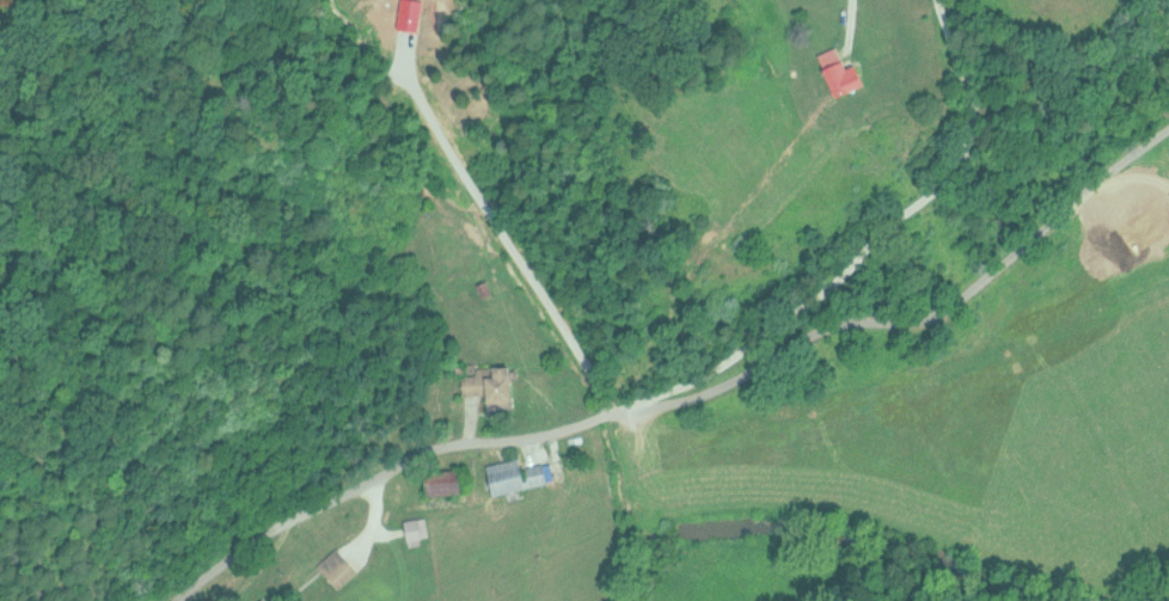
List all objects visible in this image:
building: (844, 70)
road: (1005, 121)
building: (483, 287)
building: (491, 384)
road: (679, 390)
building: (519, 473)
building: (452, 485)
building: (417, 529)
building: (337, 566)
building: (263, 599)

